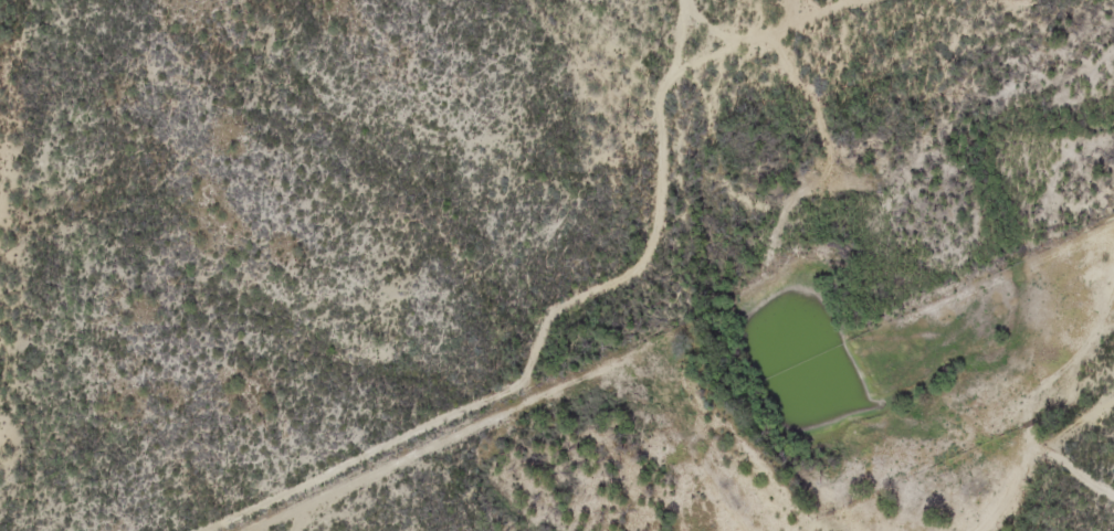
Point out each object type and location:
road: (687, 287)
road: (530, 365)
road: (1051, 408)

